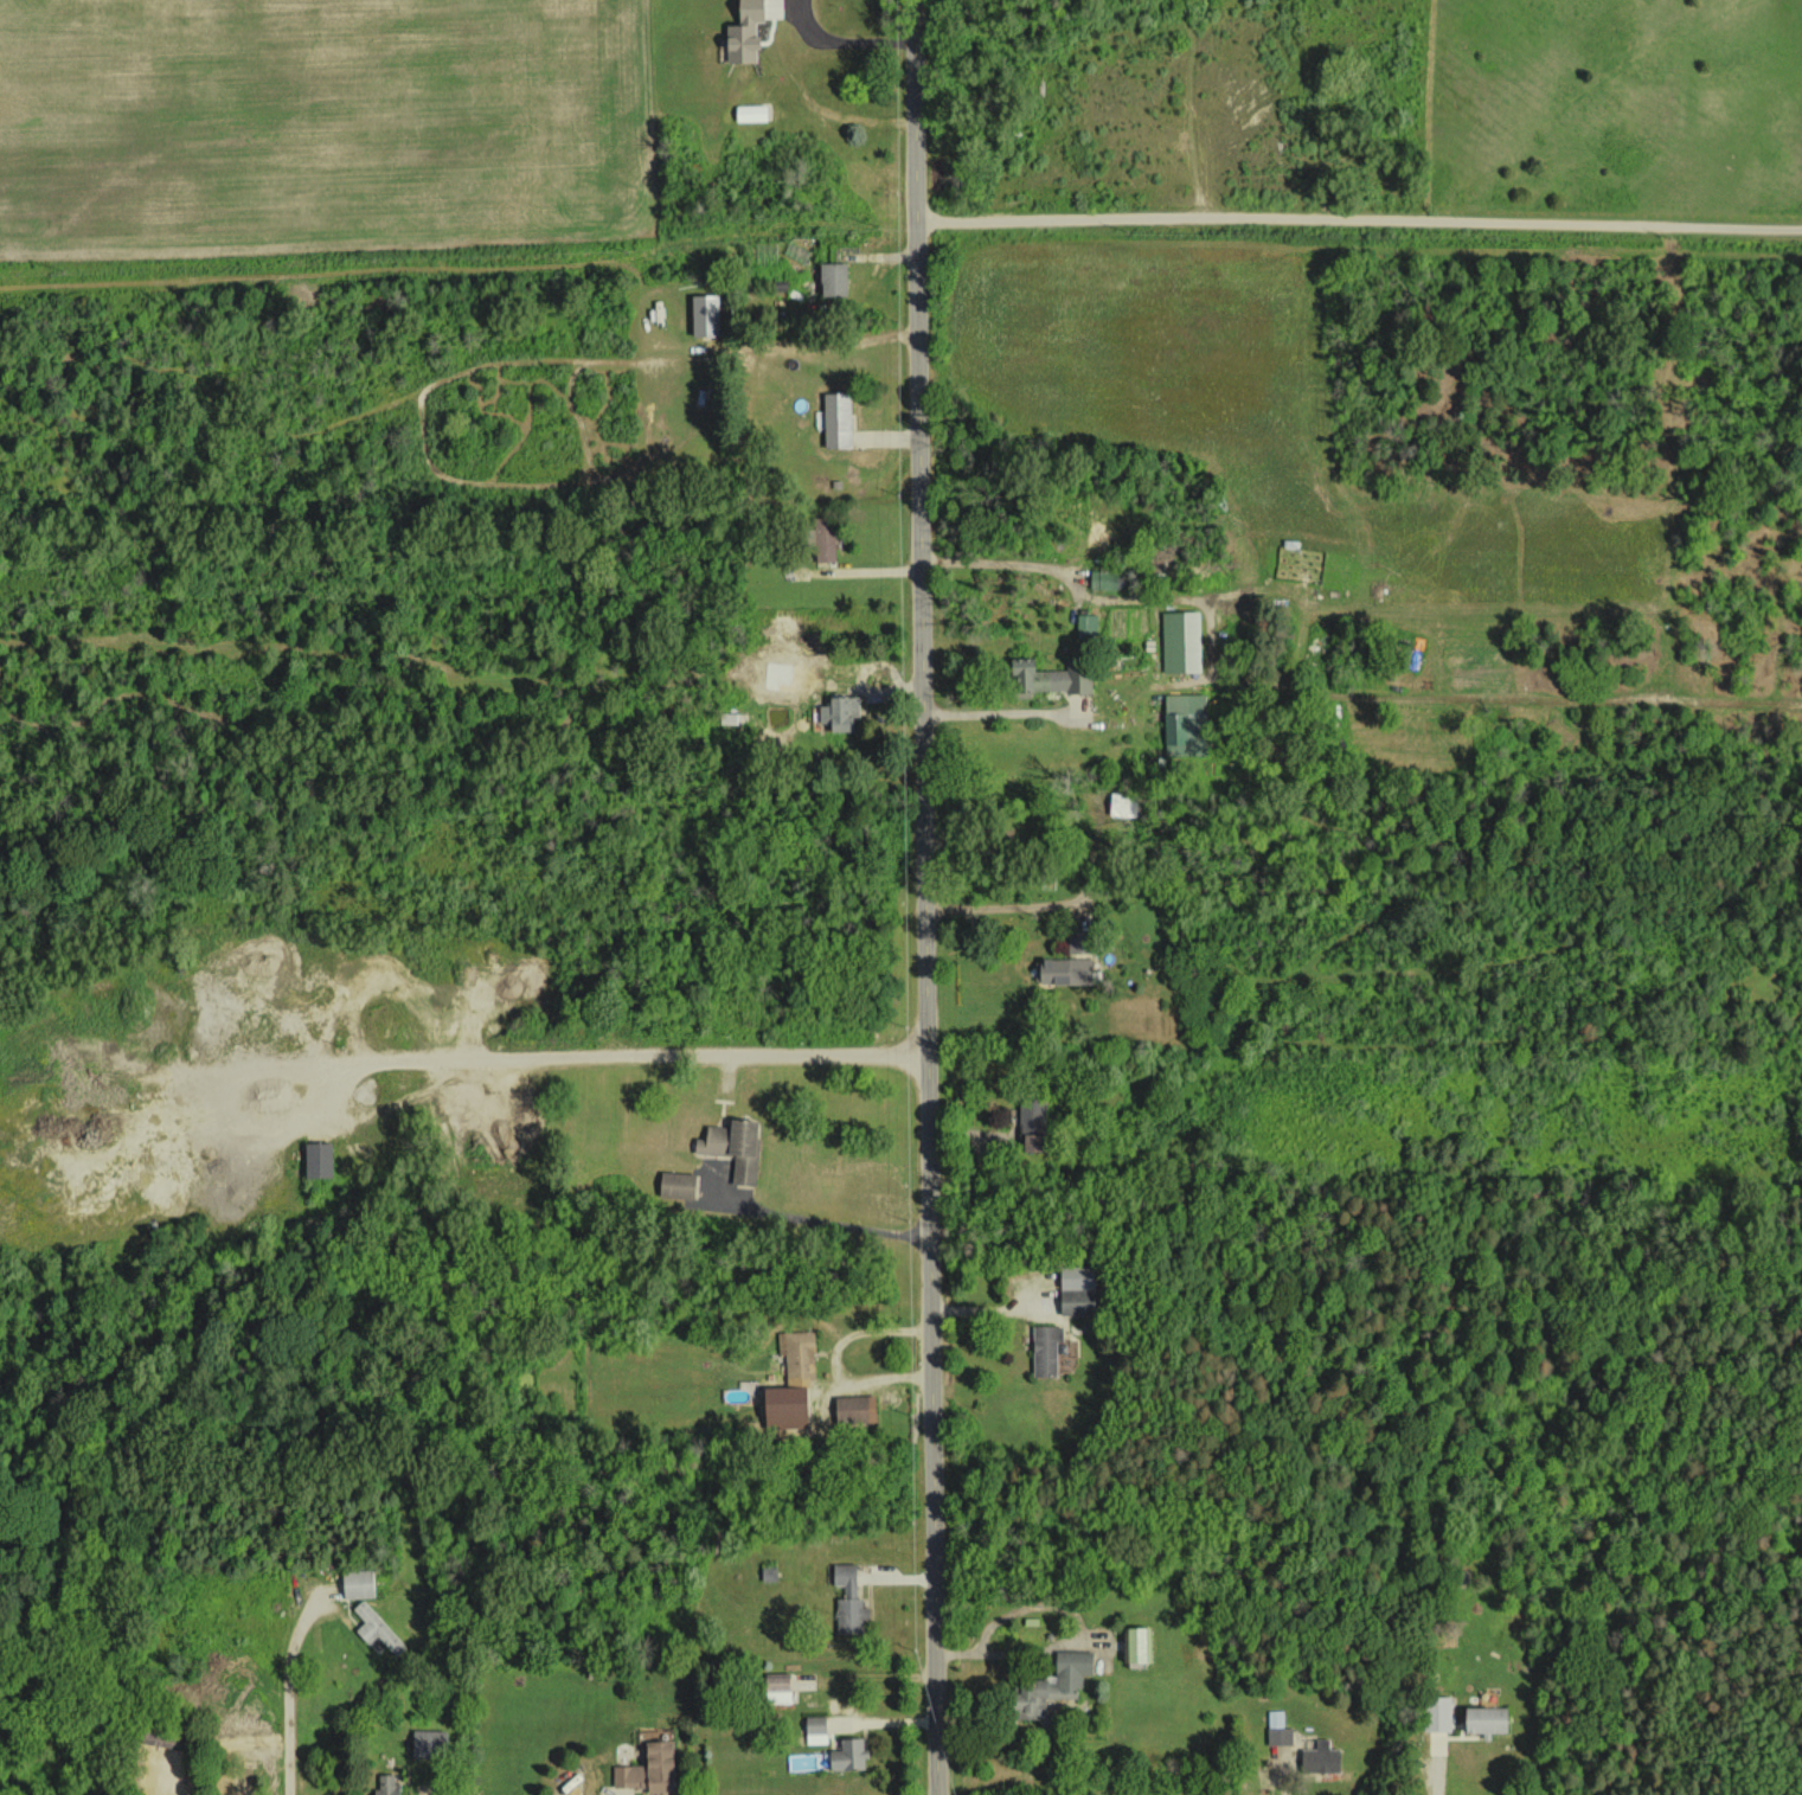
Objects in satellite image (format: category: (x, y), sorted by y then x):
road: (849, 24)
building: (742, 31)
building: (750, 113)
road: (1359, 216)
building: (831, 278)
building: (704, 315)
building: (835, 419)
building: (821, 539)
road: (989, 564)
building: (1101, 579)
building: (1086, 623)
building: (1180, 641)
building: (1046, 678)
building: (838, 712)
building: (1181, 719)
road: (924, 897)
road: (1006, 905)
building: (1064, 970)
road: (611, 1049)
building: (732, 1148)
building: (316, 1160)
building: (675, 1185)
road: (825, 1222)
building: (1078, 1290)
building: (1045, 1348)
building: (797, 1357)
building: (782, 1408)
building: (854, 1409)
building: (358, 1583)
building: (847, 1601)
building: (376, 1629)
building: (1136, 1645)
building: (1052, 1684)
building: (776, 1687)
road: (294, 1692)
building: (1436, 1712)
building: (1484, 1720)
building: (1278, 1729)
building: (816, 1730)
building: (428, 1742)
building: (847, 1755)
building: (1319, 1757)
road: (1428, 1764)
building: (647, 1769)
building: (385, 1786)

